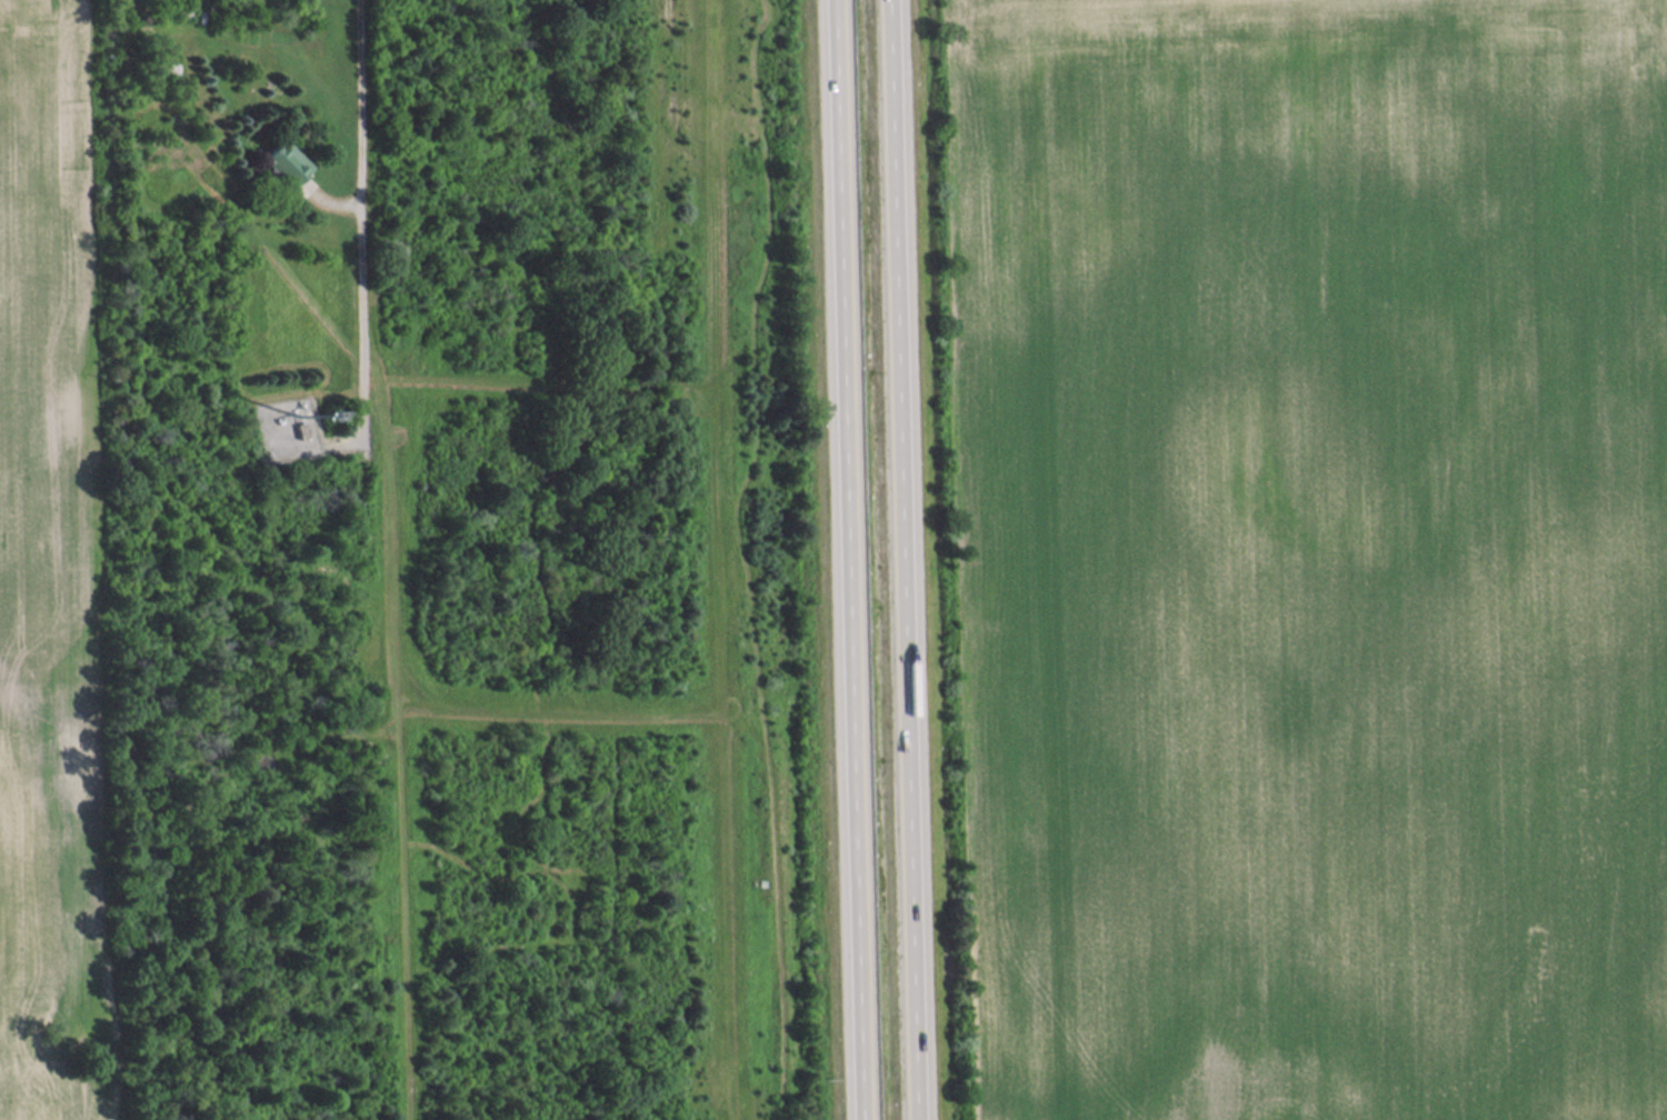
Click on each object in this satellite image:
building: (283, 162)
road: (367, 220)
road: (860, 560)
road: (922, 560)

